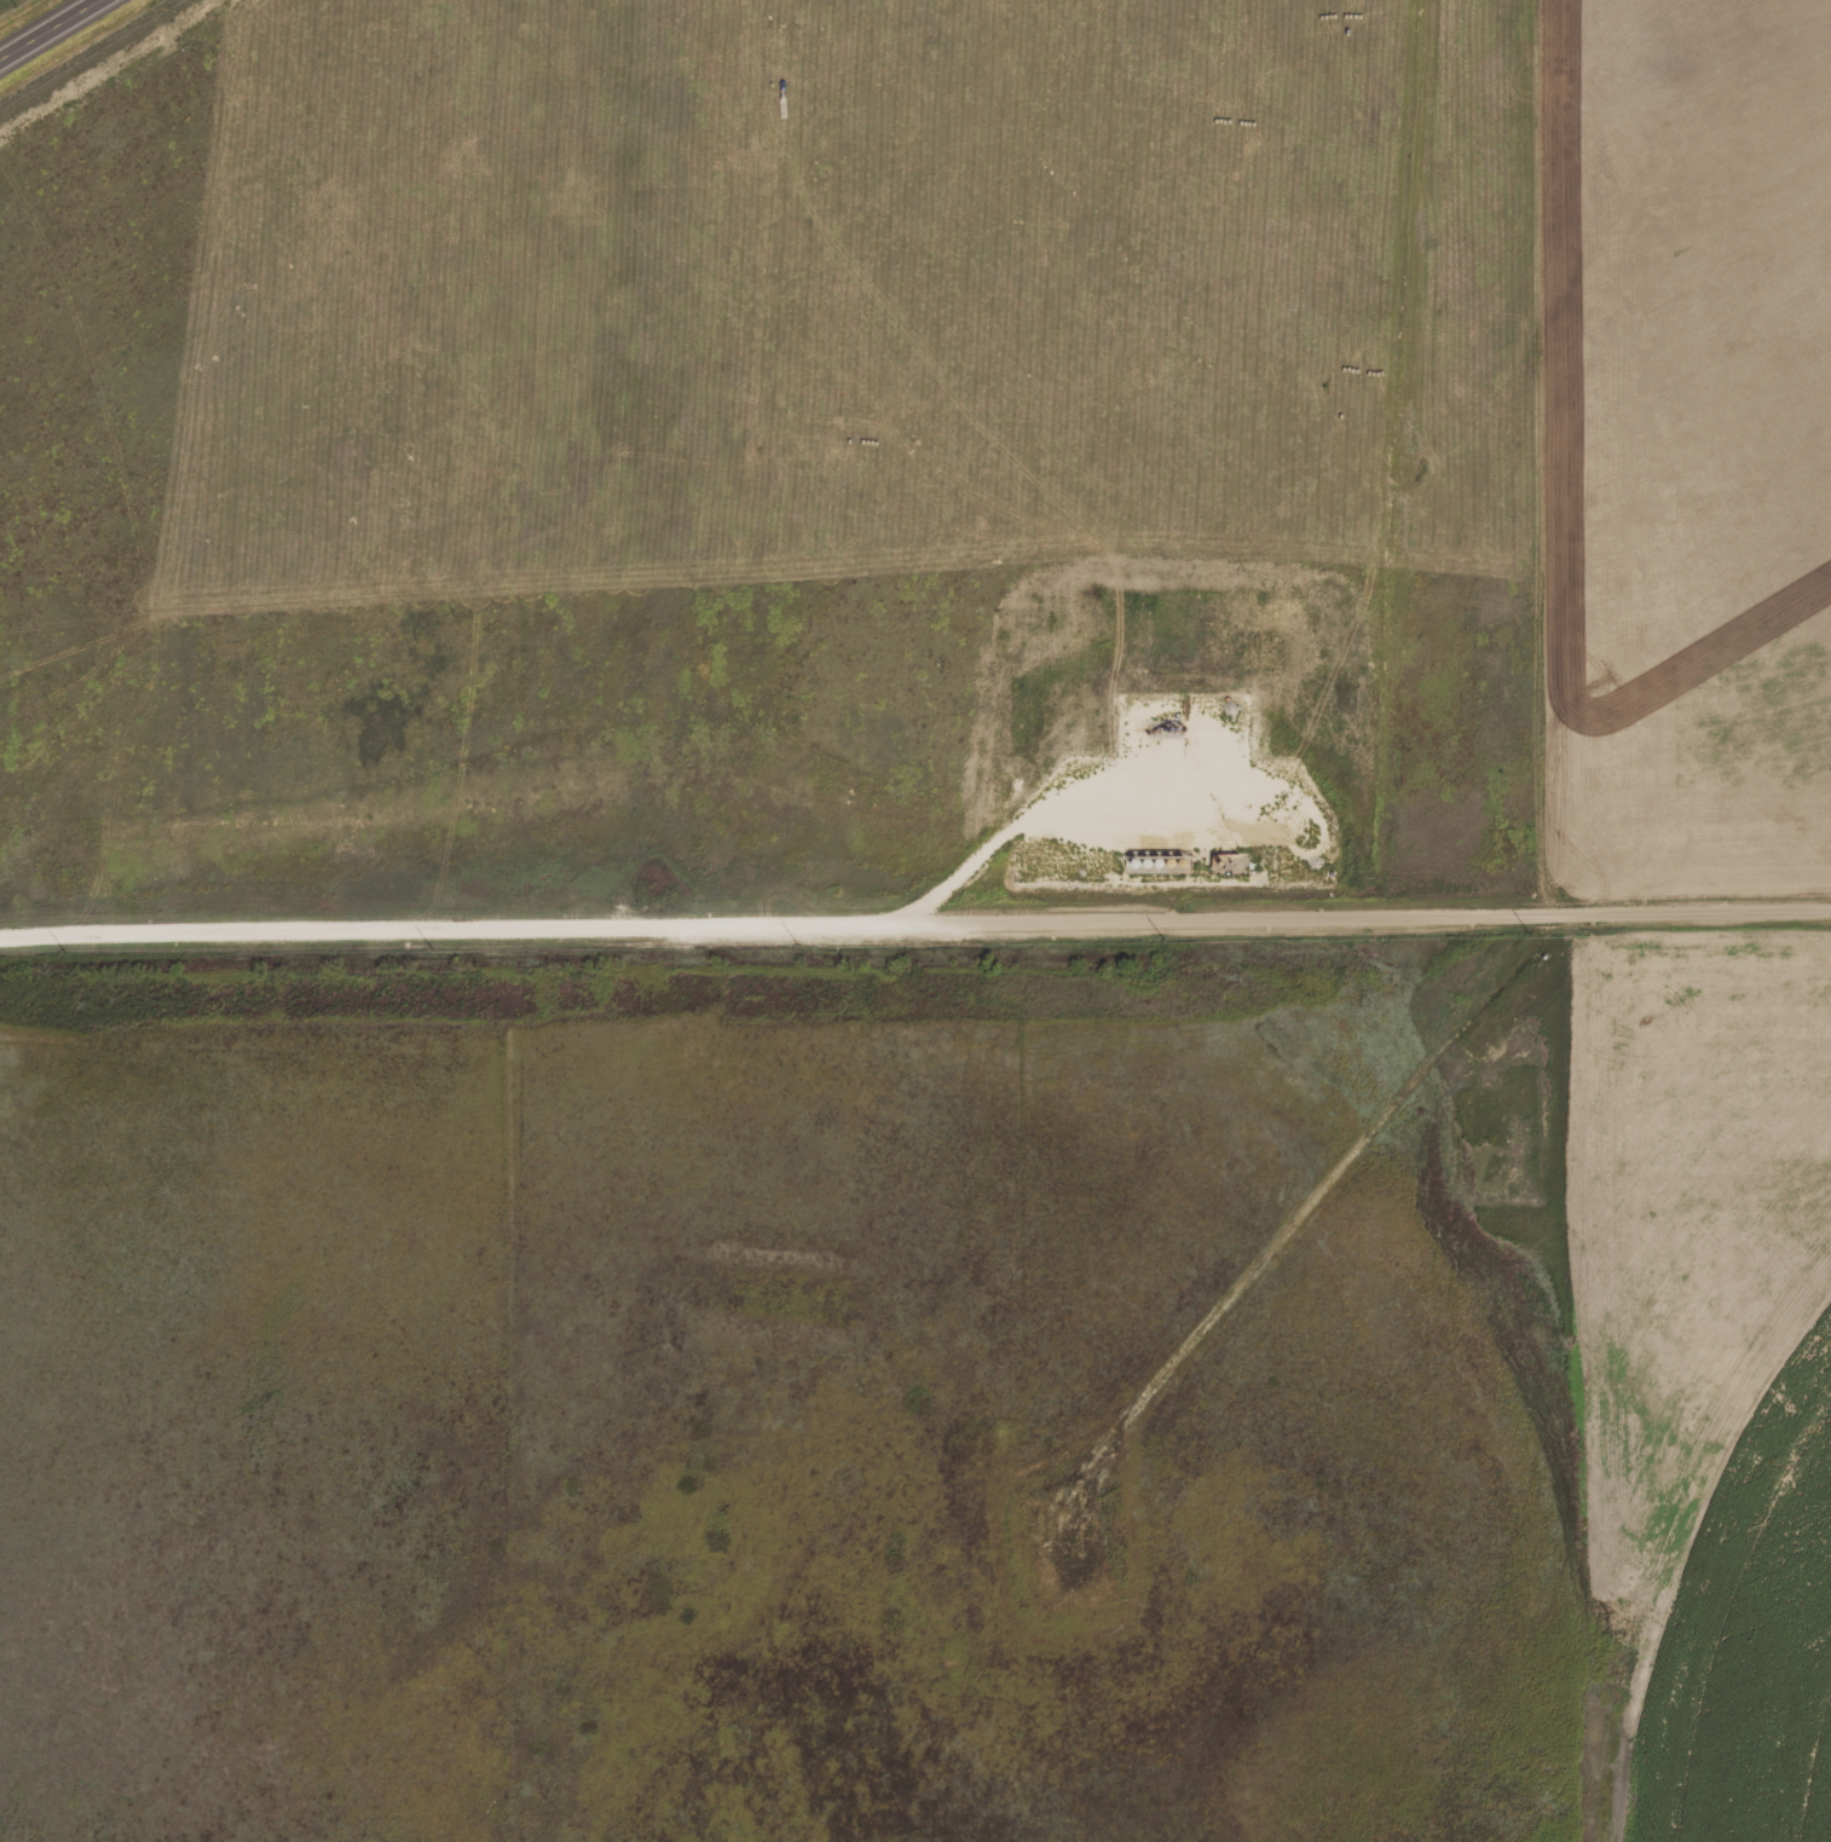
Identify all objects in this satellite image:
road: (52, 31)
road: (915, 923)

